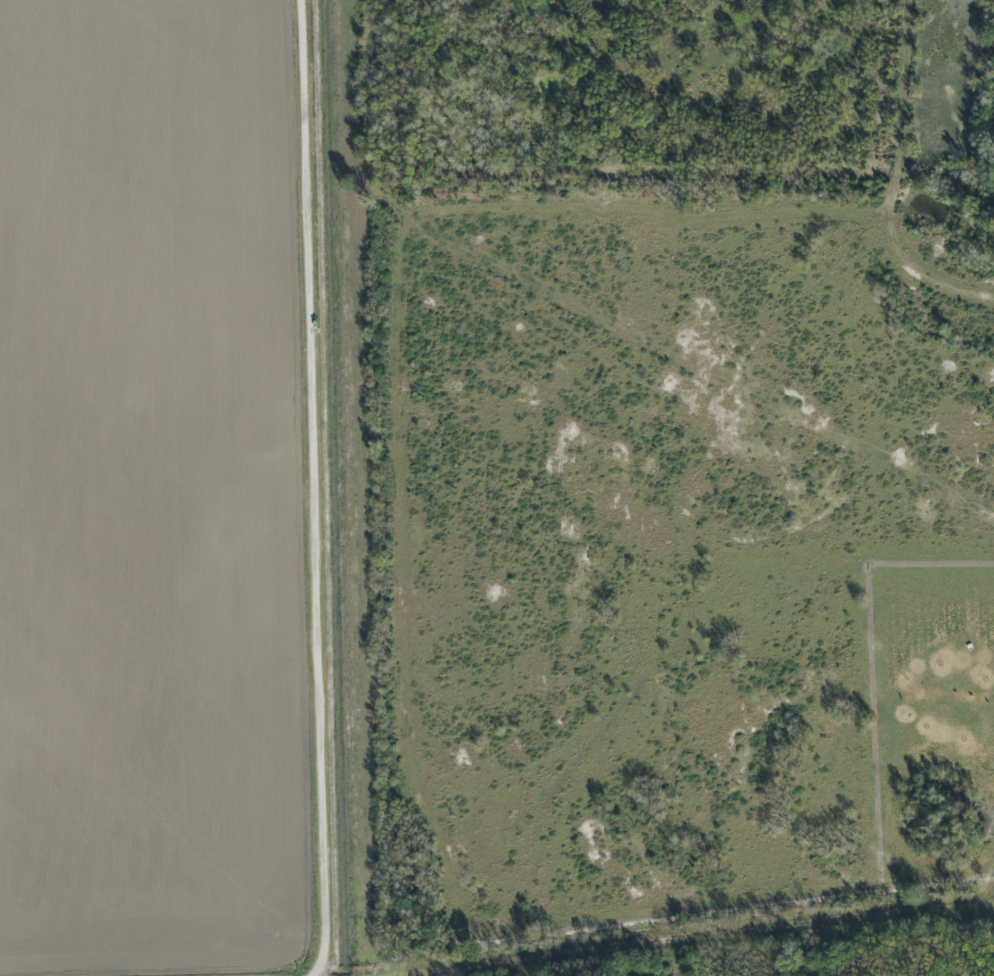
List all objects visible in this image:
road: (891, 183)
road: (318, 490)
road: (702, 936)

